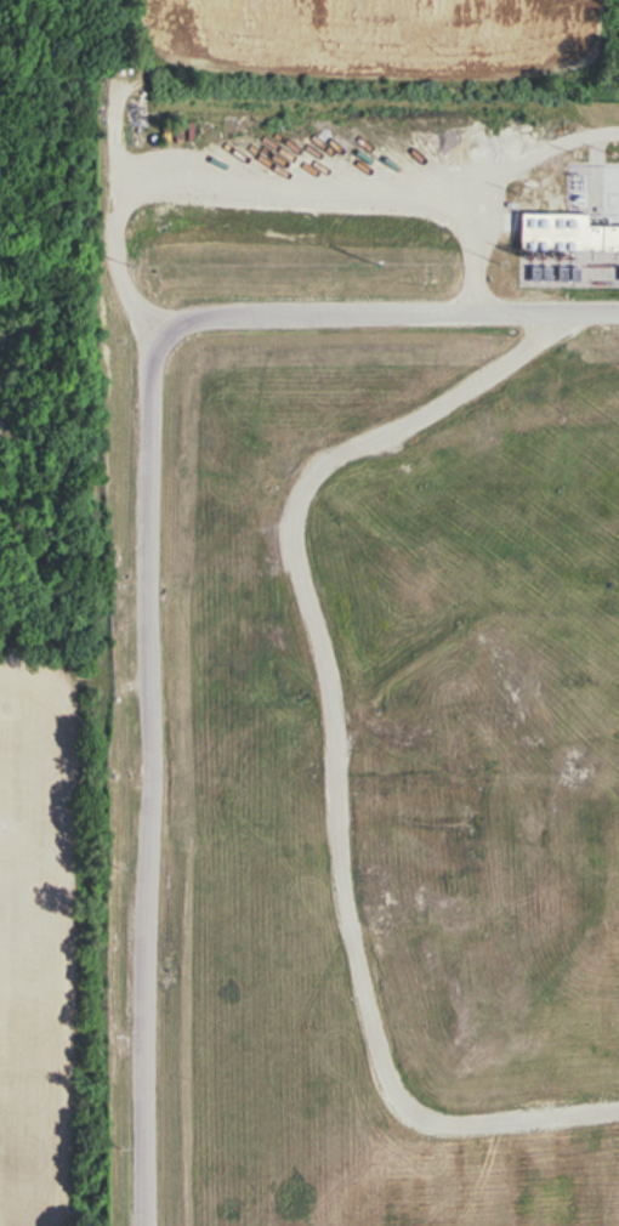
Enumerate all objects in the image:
building: (568, 250)
road: (148, 550)
landfill: (365, 779)

